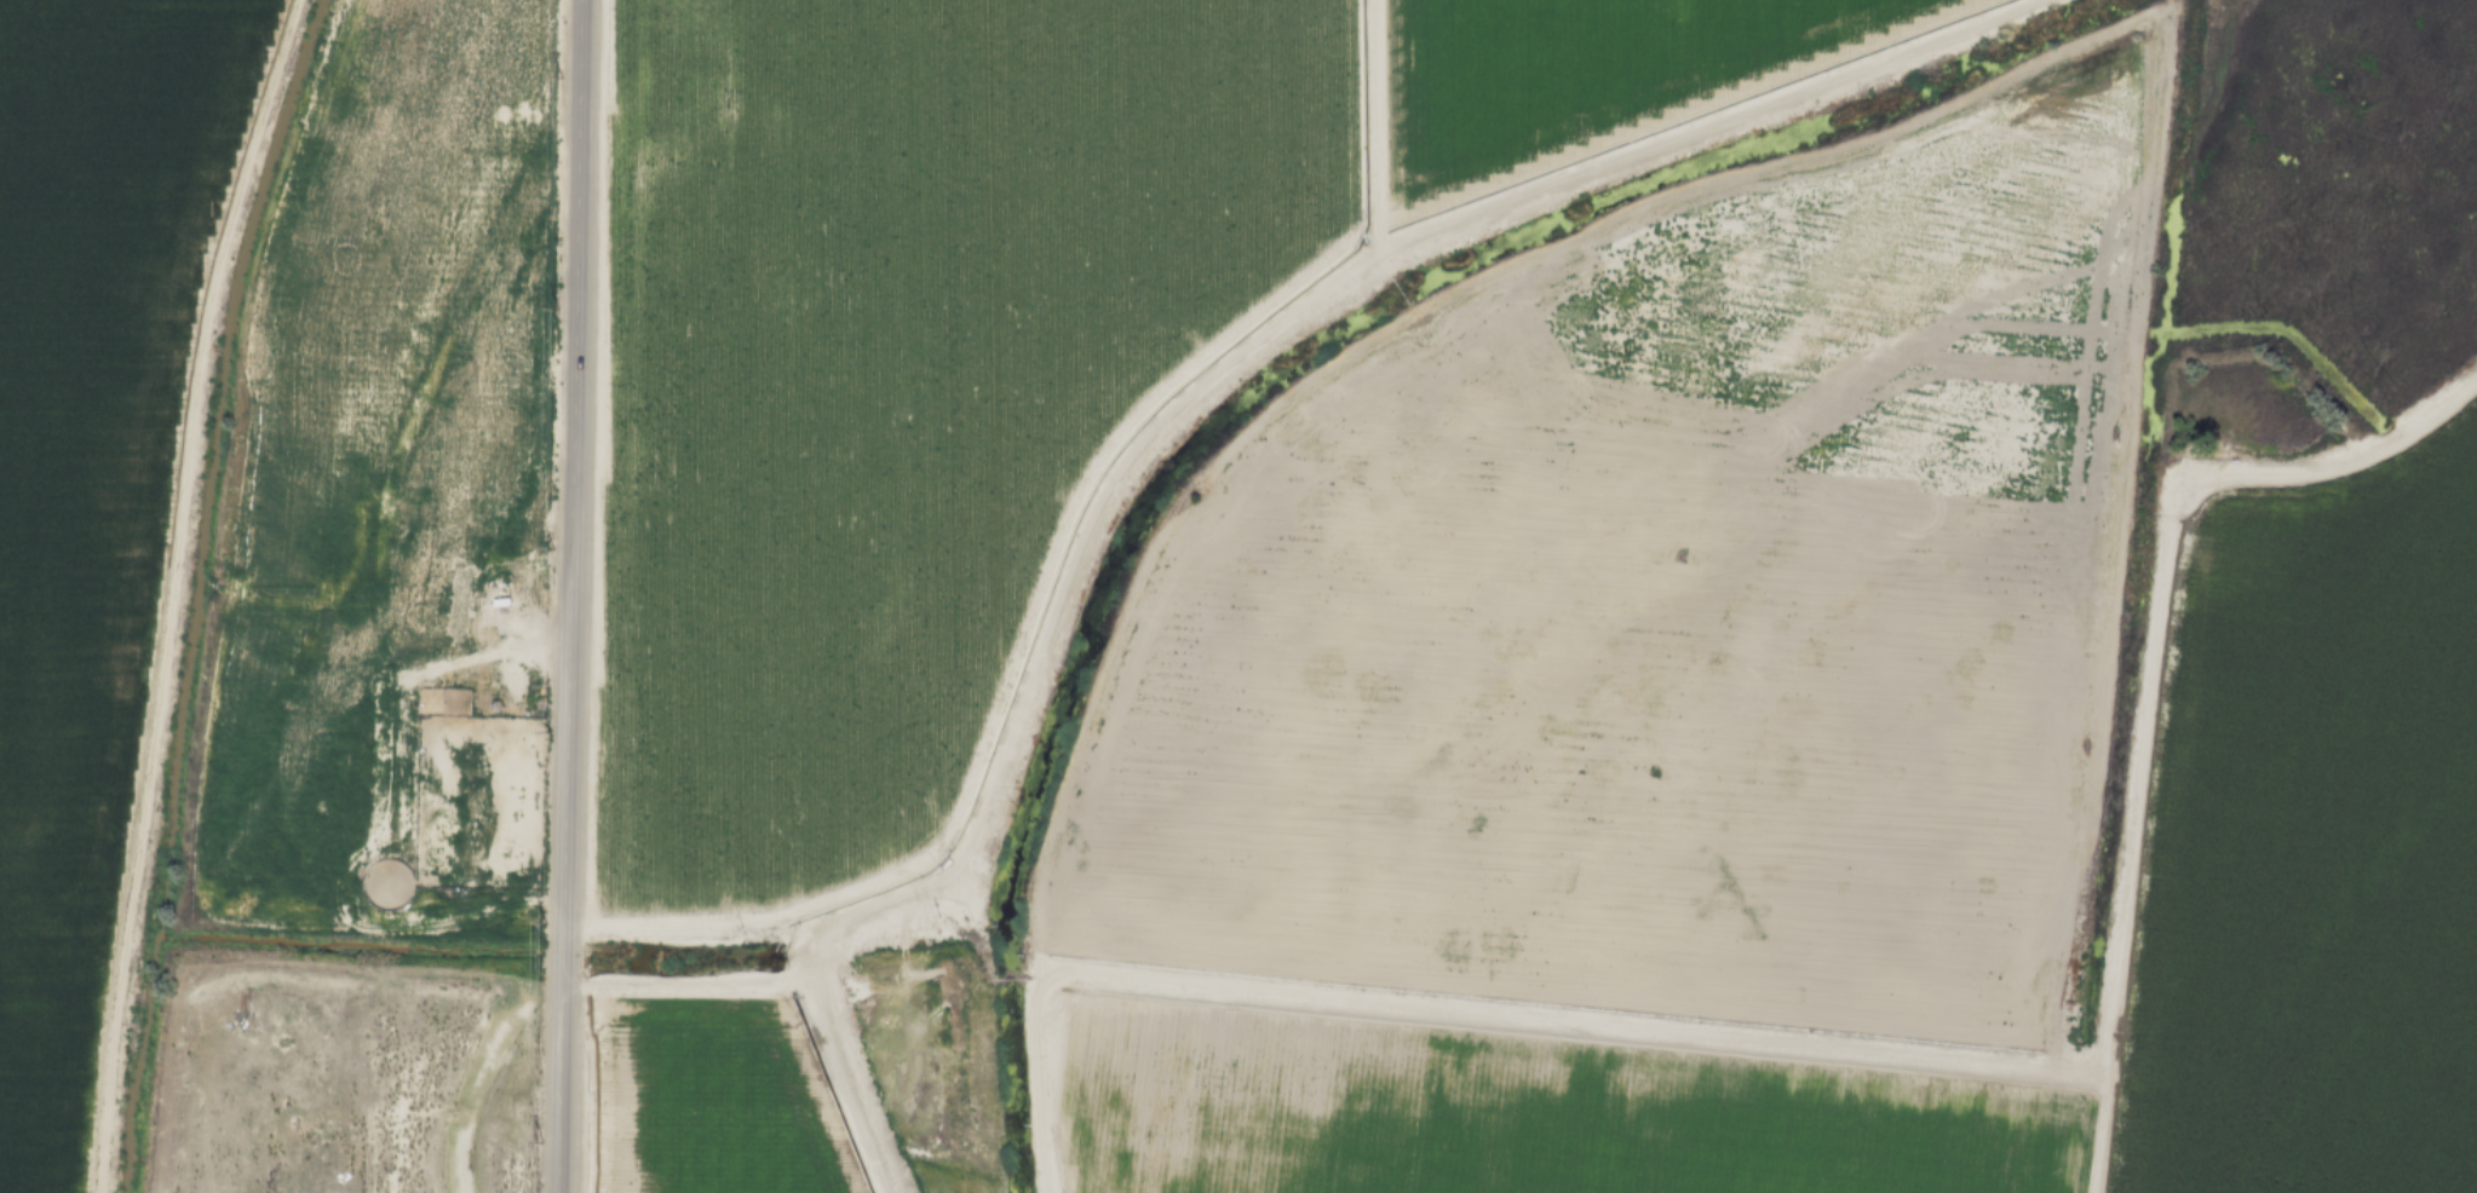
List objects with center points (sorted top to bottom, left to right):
road: (237, 1)
road: (1370, 134)
road: (1178, 400)
road: (169, 592)
road: (569, 595)
building: (505, 617)
road: (2150, 678)
road: (485, 842)
road: (683, 982)
road: (1461, 1009)

